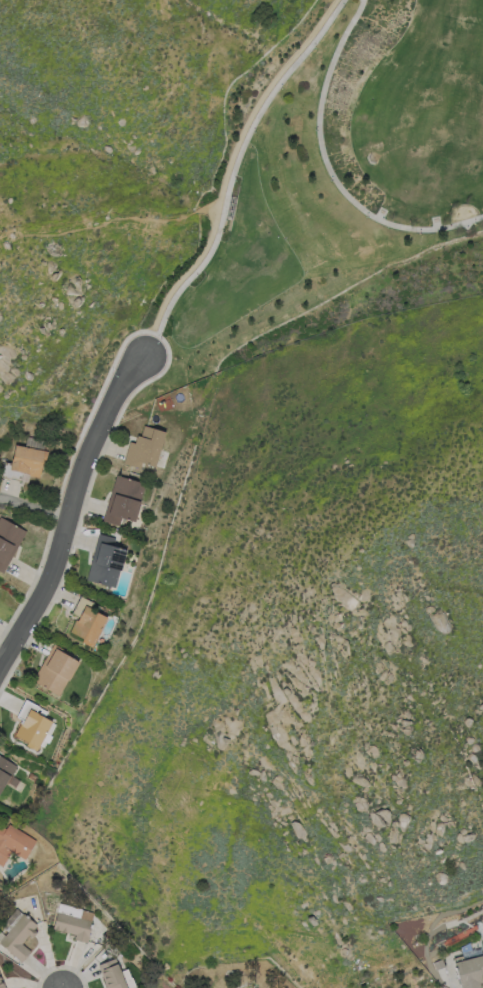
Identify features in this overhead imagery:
road: (320, 146)
road: (234, 165)
park: (340, 188)
building: (229, 207)
road: (109, 218)
road: (459, 222)
road: (201, 250)
building: (142, 447)
building: (28, 460)
building: (124, 500)
road: (69, 504)
road: (33, 507)
building: (8, 542)
building: (106, 562)
building: (89, 626)
building: (56, 672)
building: (33, 729)
building: (5, 772)
building: (32, 777)
building: (14, 843)
building: (73, 926)
building: (19, 938)
building: (439, 964)
building: (470, 972)
building: (112, 974)
building: (126, 978)
building: (1, 983)

